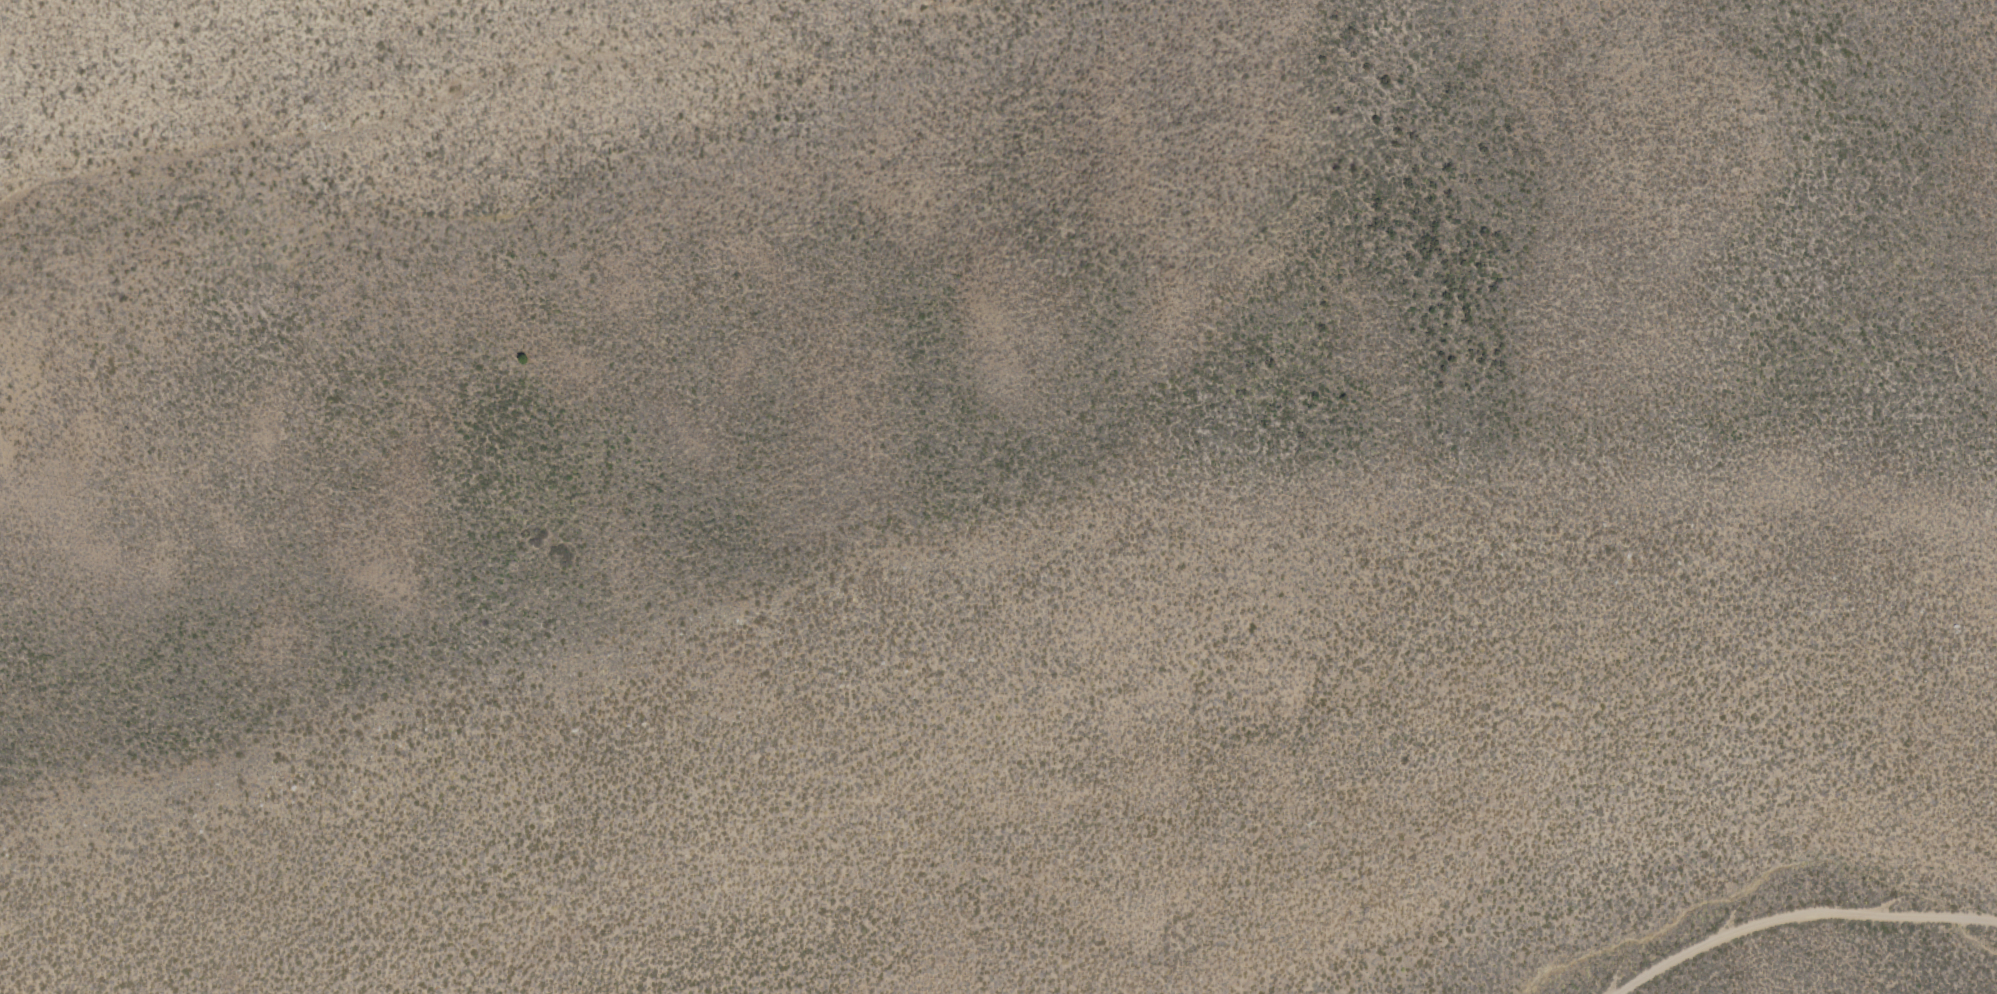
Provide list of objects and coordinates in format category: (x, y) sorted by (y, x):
road: (1797, 917)

